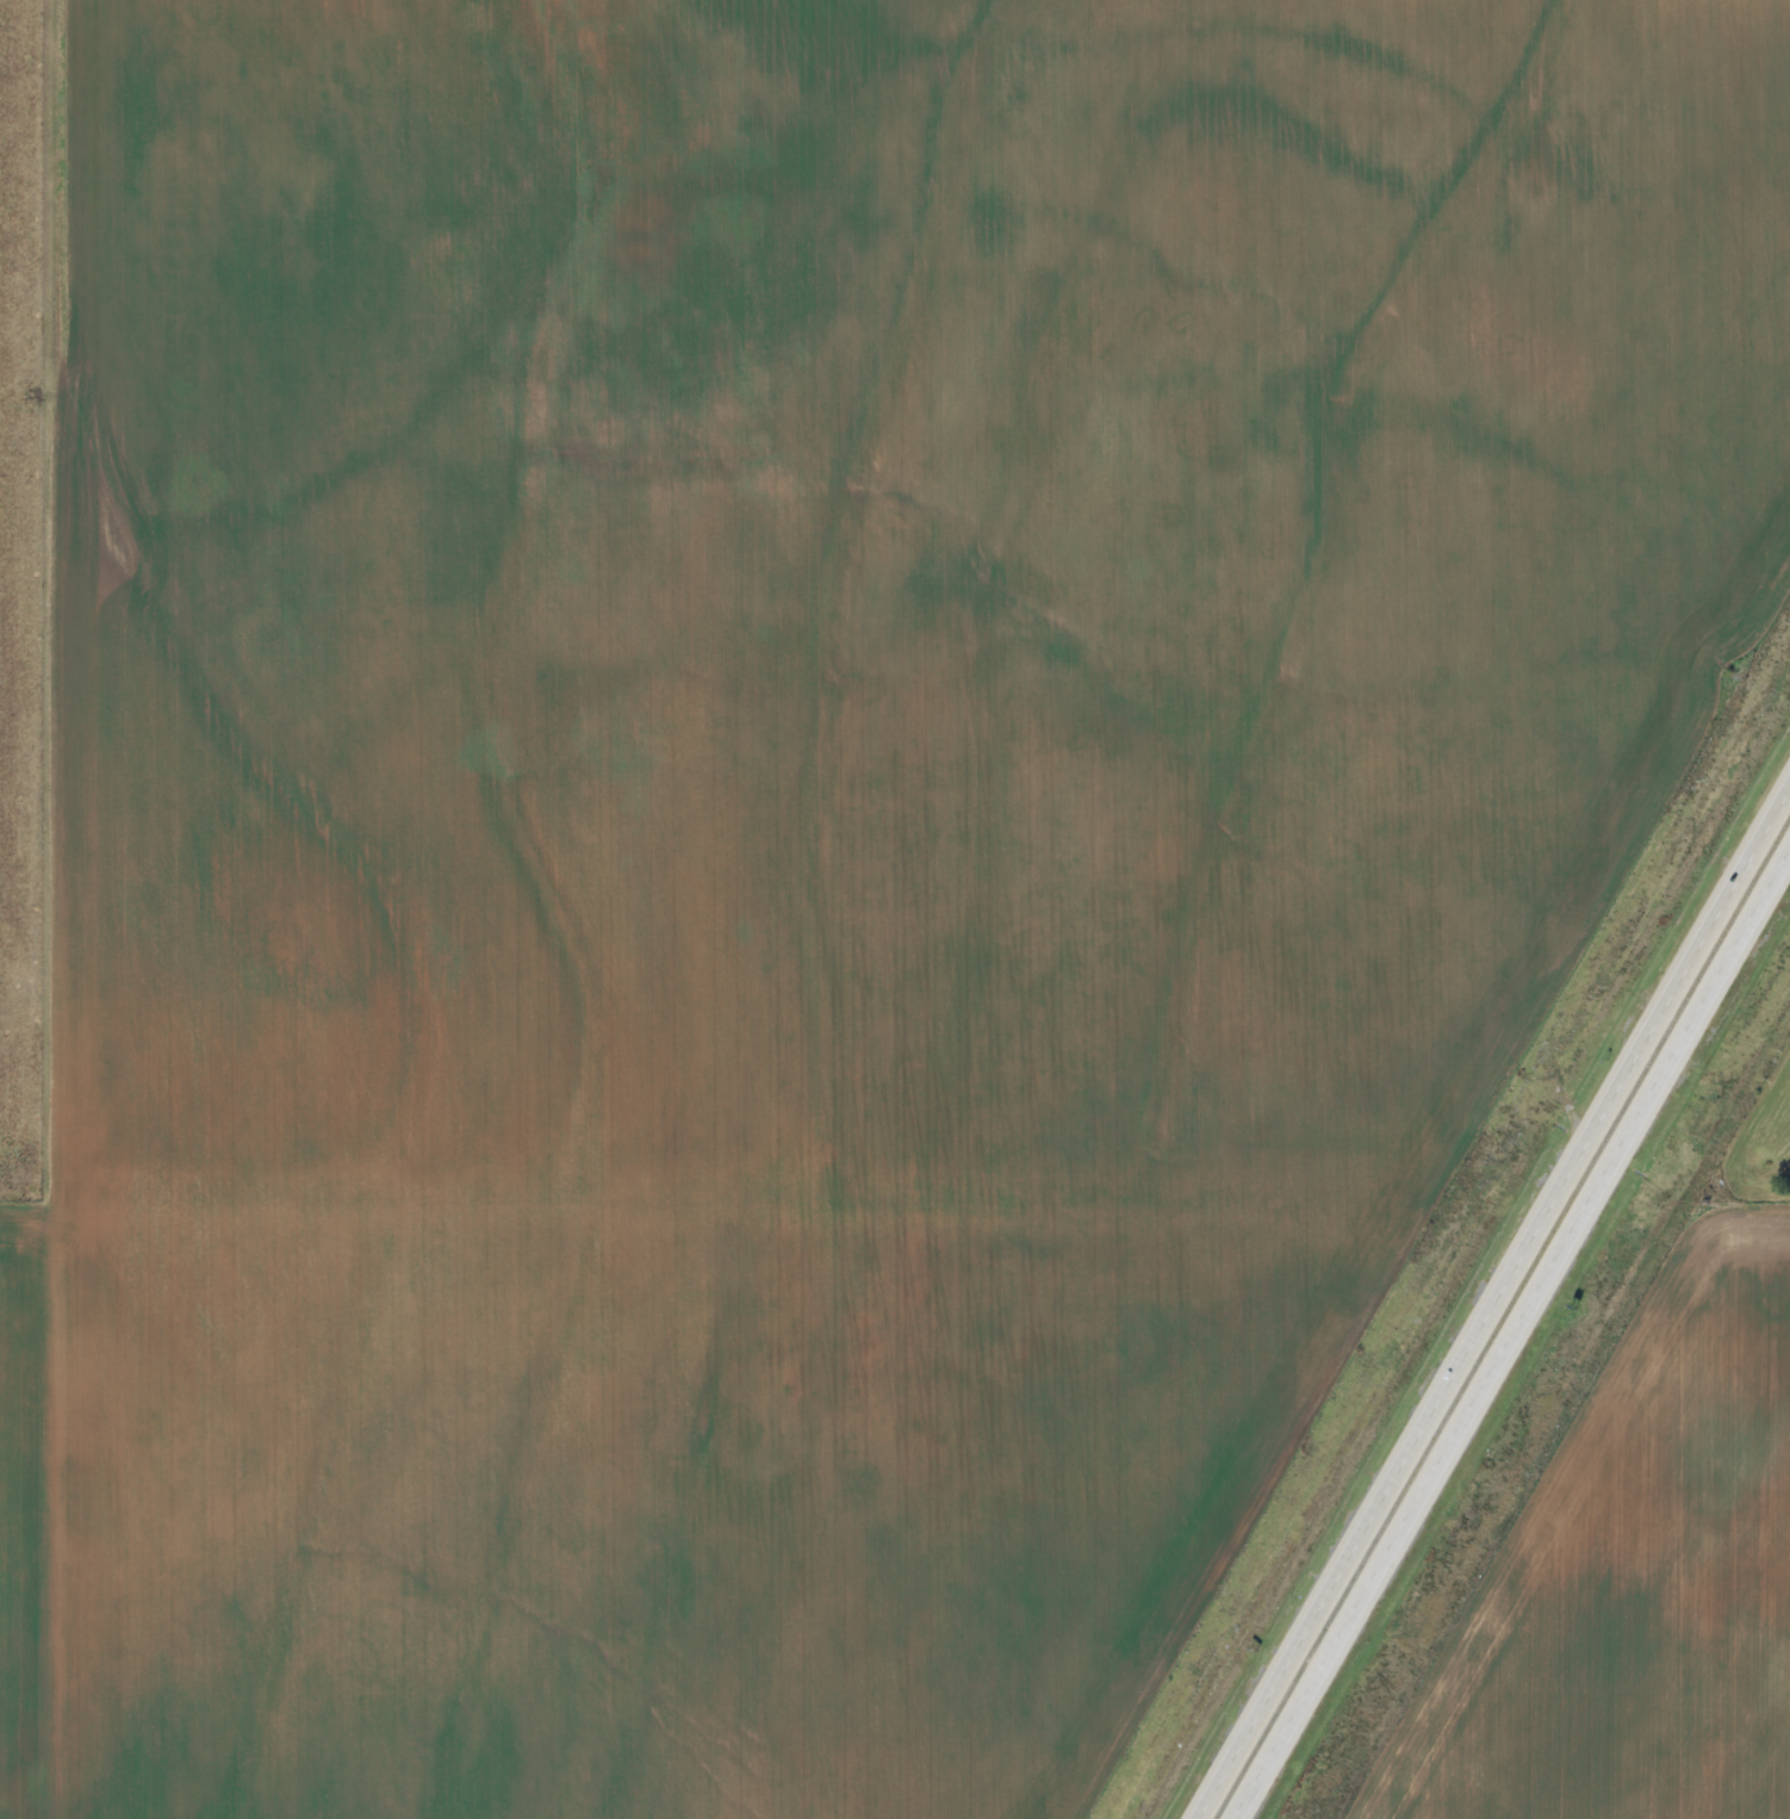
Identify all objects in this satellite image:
road: (1493, 1302)
road: (1510, 1333)

